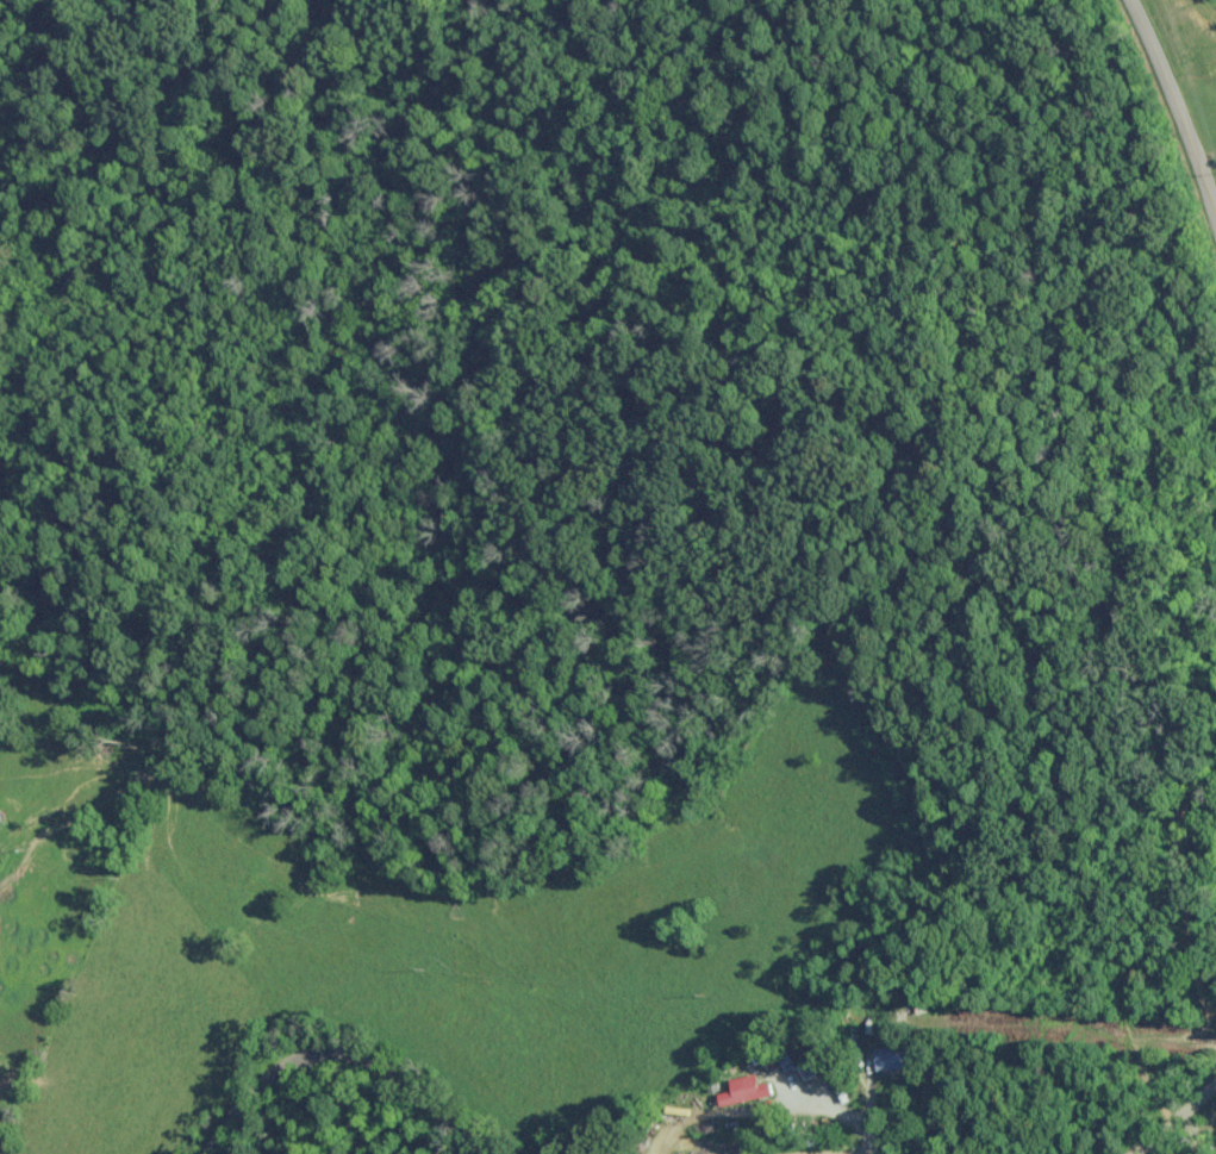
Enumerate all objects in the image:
road: (1177, 102)
road: (341, 1055)
building: (894, 1058)
building: (802, 1063)
road: (1172, 1118)

